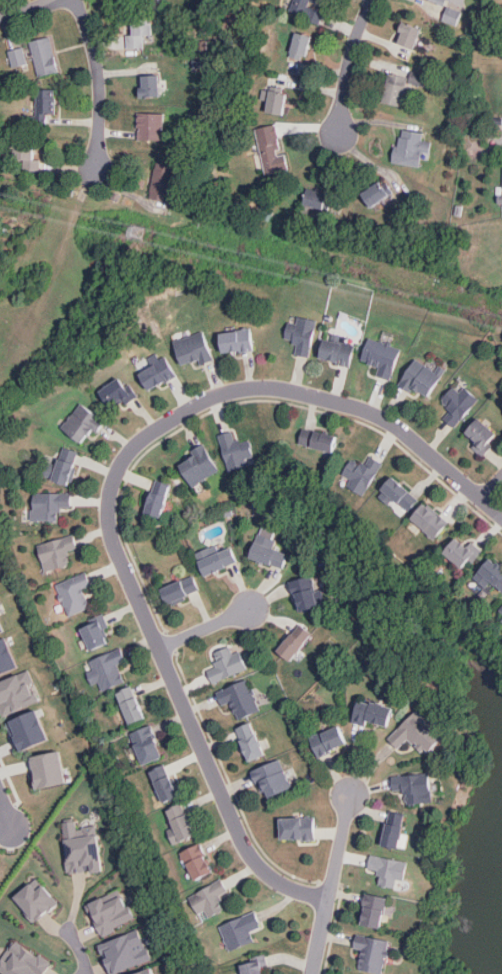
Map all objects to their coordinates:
building: (443, 2)
building: (302, 4)
road: (28, 12)
building: (452, 16)
building: (143, 31)
building: (409, 32)
building: (302, 46)
building: (45, 56)
building: (17, 58)
road: (348, 65)
road: (98, 83)
building: (150, 83)
building: (397, 88)
building: (277, 95)
building: (46, 103)
building: (153, 125)
building: (271, 147)
building: (409, 147)
building: (24, 149)
building: (163, 181)
building: (376, 196)
building: (318, 201)
power tower: (135, 234)
building: (301, 333)
building: (237, 340)
building: (193, 349)
building: (337, 353)
building: (381, 354)
building: (157, 374)
building: (421, 377)
building: (117, 391)
building: (457, 402)
building: (83, 423)
building: (480, 435)
building: (319, 440)
building: (239, 453)
building: (65, 466)
building: (199, 467)
building: (361, 472)
road: (491, 484)
building: (397, 492)
road: (110, 496)
building: (157, 499)
building: (48, 506)
building: (428, 518)
building: (464, 550)
building: (269, 551)
building: (57, 552)
building: (217, 557)
building: (492, 576)
building: (178, 589)
building: (306, 593)
building: (73, 594)
building: (501, 609)
building: (2, 623)
road: (205, 628)
building: (1, 632)
building: (96, 633)
building: (295, 641)
building: (6, 660)
building: (226, 662)
building: (107, 668)
building: (14, 695)
building: (242, 695)
building: (128, 701)
building: (373, 712)
building: (422, 728)
building: (30, 731)
building: (250, 739)
building: (330, 741)
building: (146, 742)
building: (49, 771)
building: (275, 778)
building: (163, 784)
building: (417, 786)
road: (5, 810)
building: (181, 820)
building: (299, 827)
building: (396, 829)
building: (83, 845)
building: (197, 860)
building: (391, 869)
road: (332, 884)
building: (36, 896)
building: (207, 901)
building: (374, 906)
building: (109, 912)
building: (237, 932)
building: (124, 948)
road: (78, 950)
building: (374, 951)
building: (24, 960)
building: (254, 963)
building: (146, 970)

